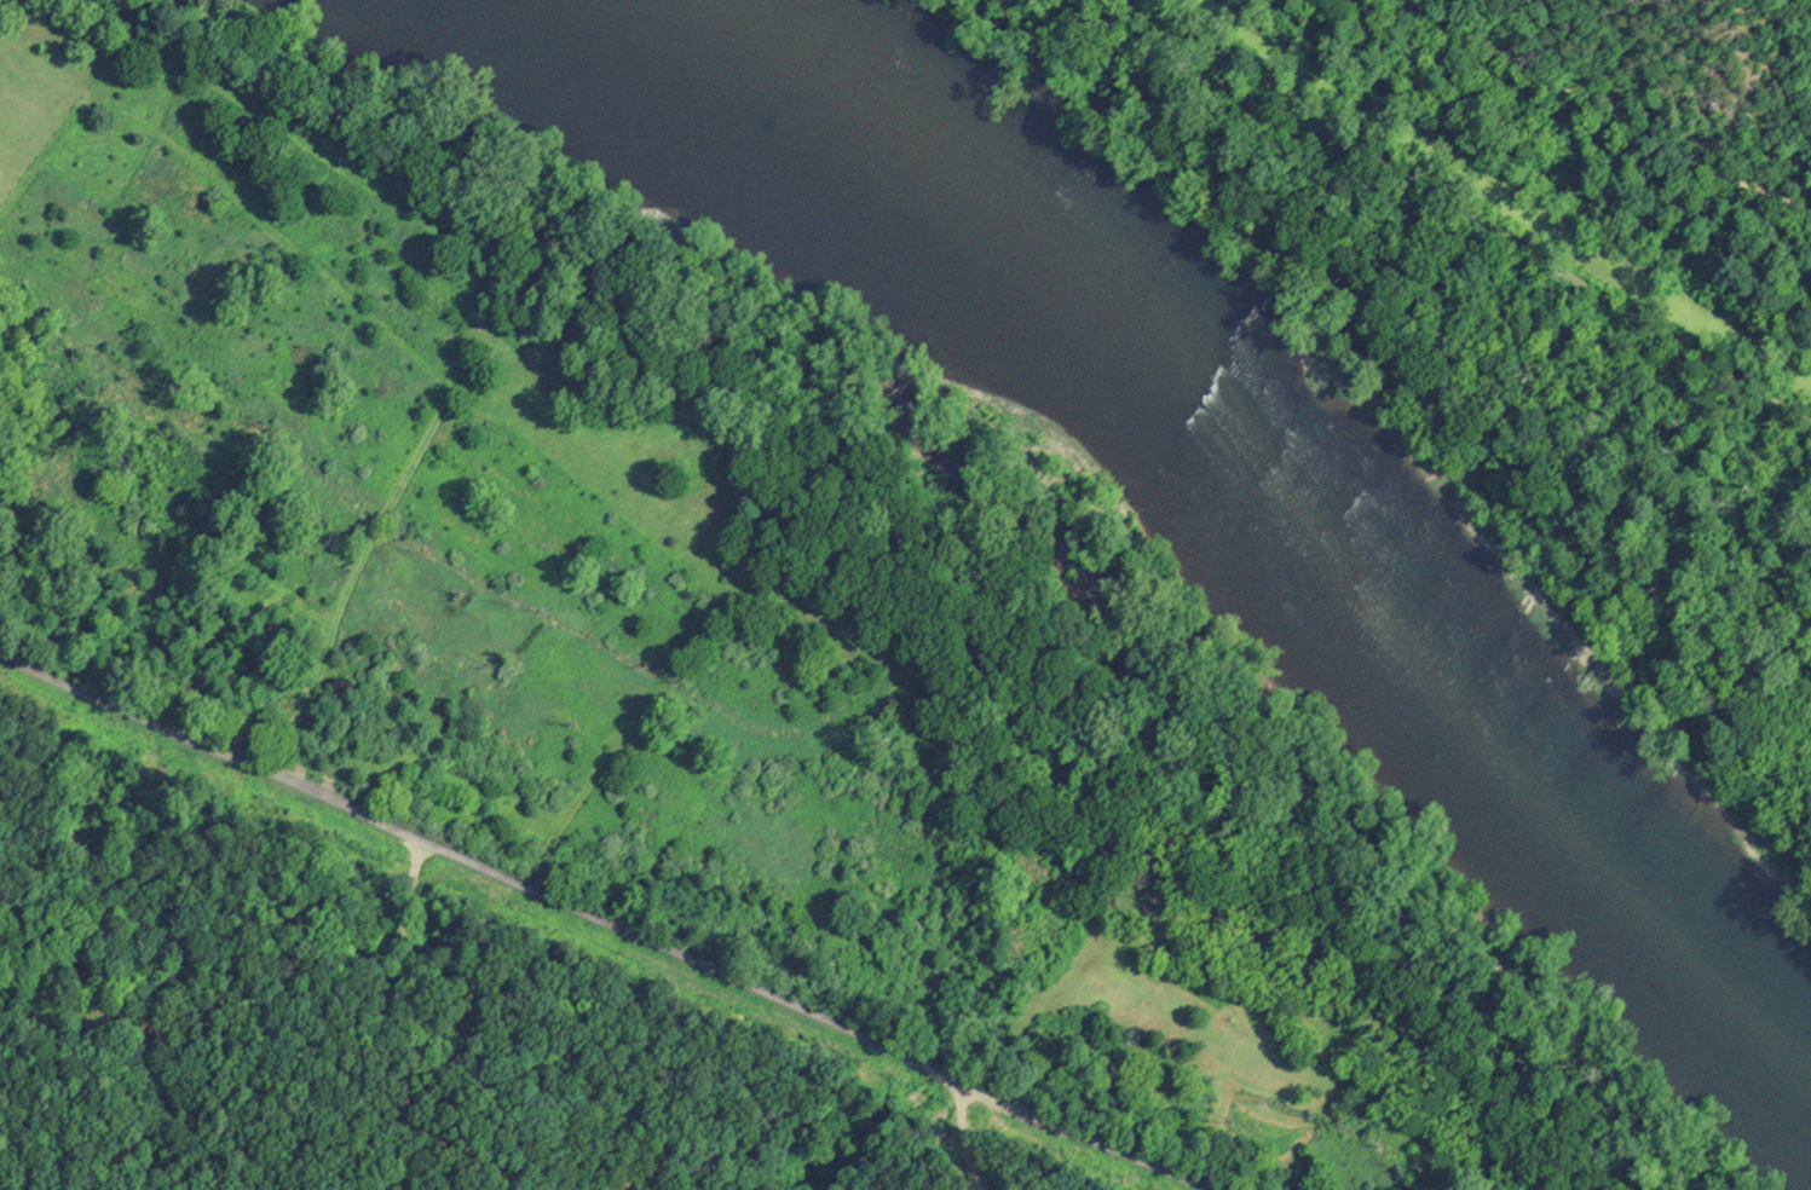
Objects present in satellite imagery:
road: (1608, 110)
road: (1471, 215)
river: (1255, 467)
road: (485, 865)
road: (502, 1034)
road: (965, 1137)
road: (1088, 1137)

